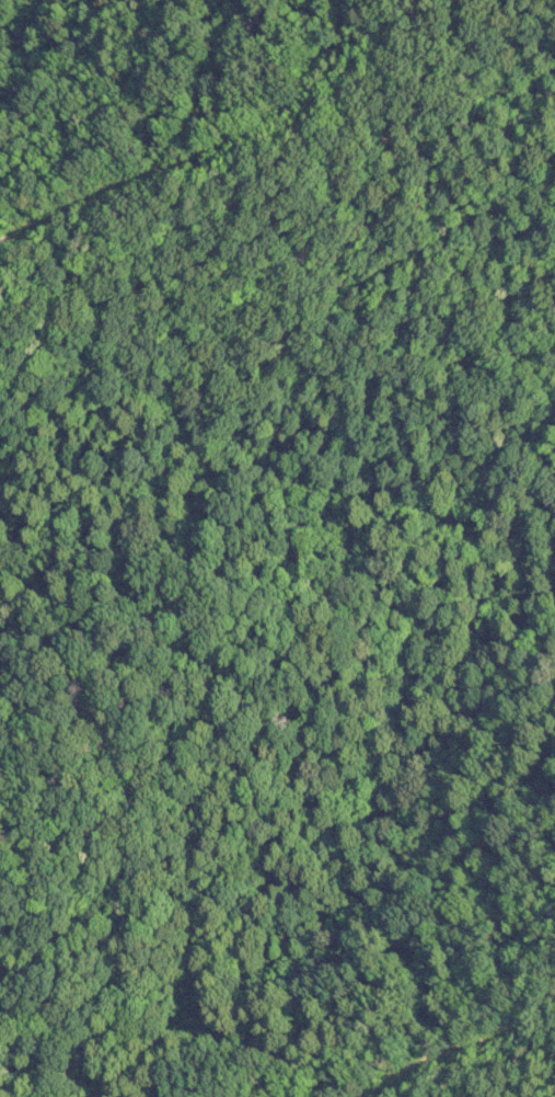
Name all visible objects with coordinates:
road: (201, 136)
road: (106, 1092)

